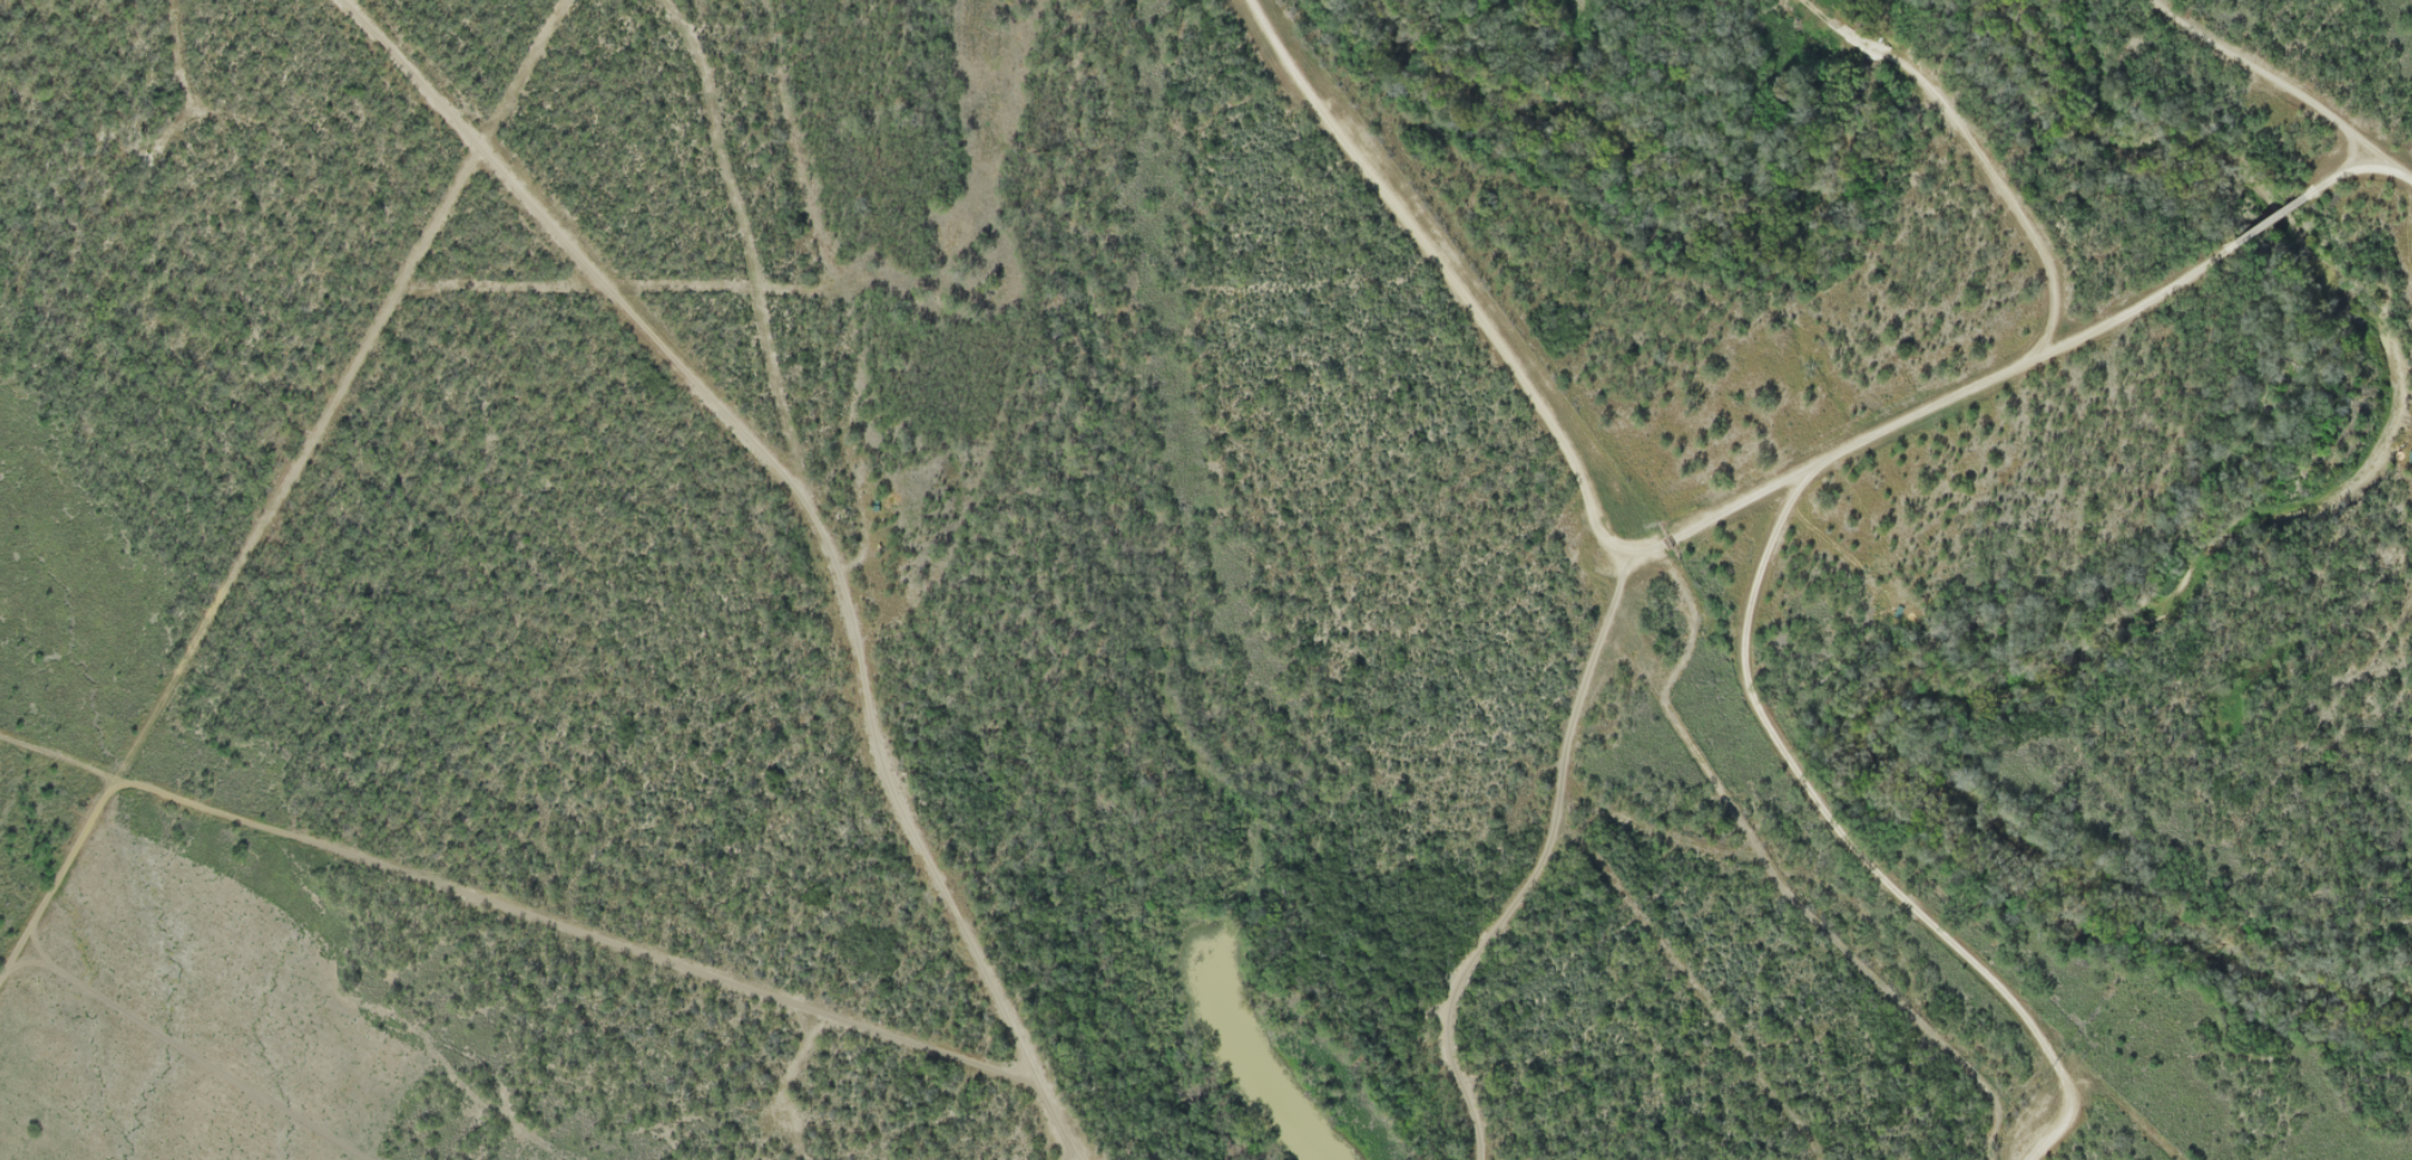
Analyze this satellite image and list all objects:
road: (2355, 169)
river: (1685, 202)
road: (2270, 219)
road: (1512, 367)
river: (2148, 622)
road: (1742, 631)

